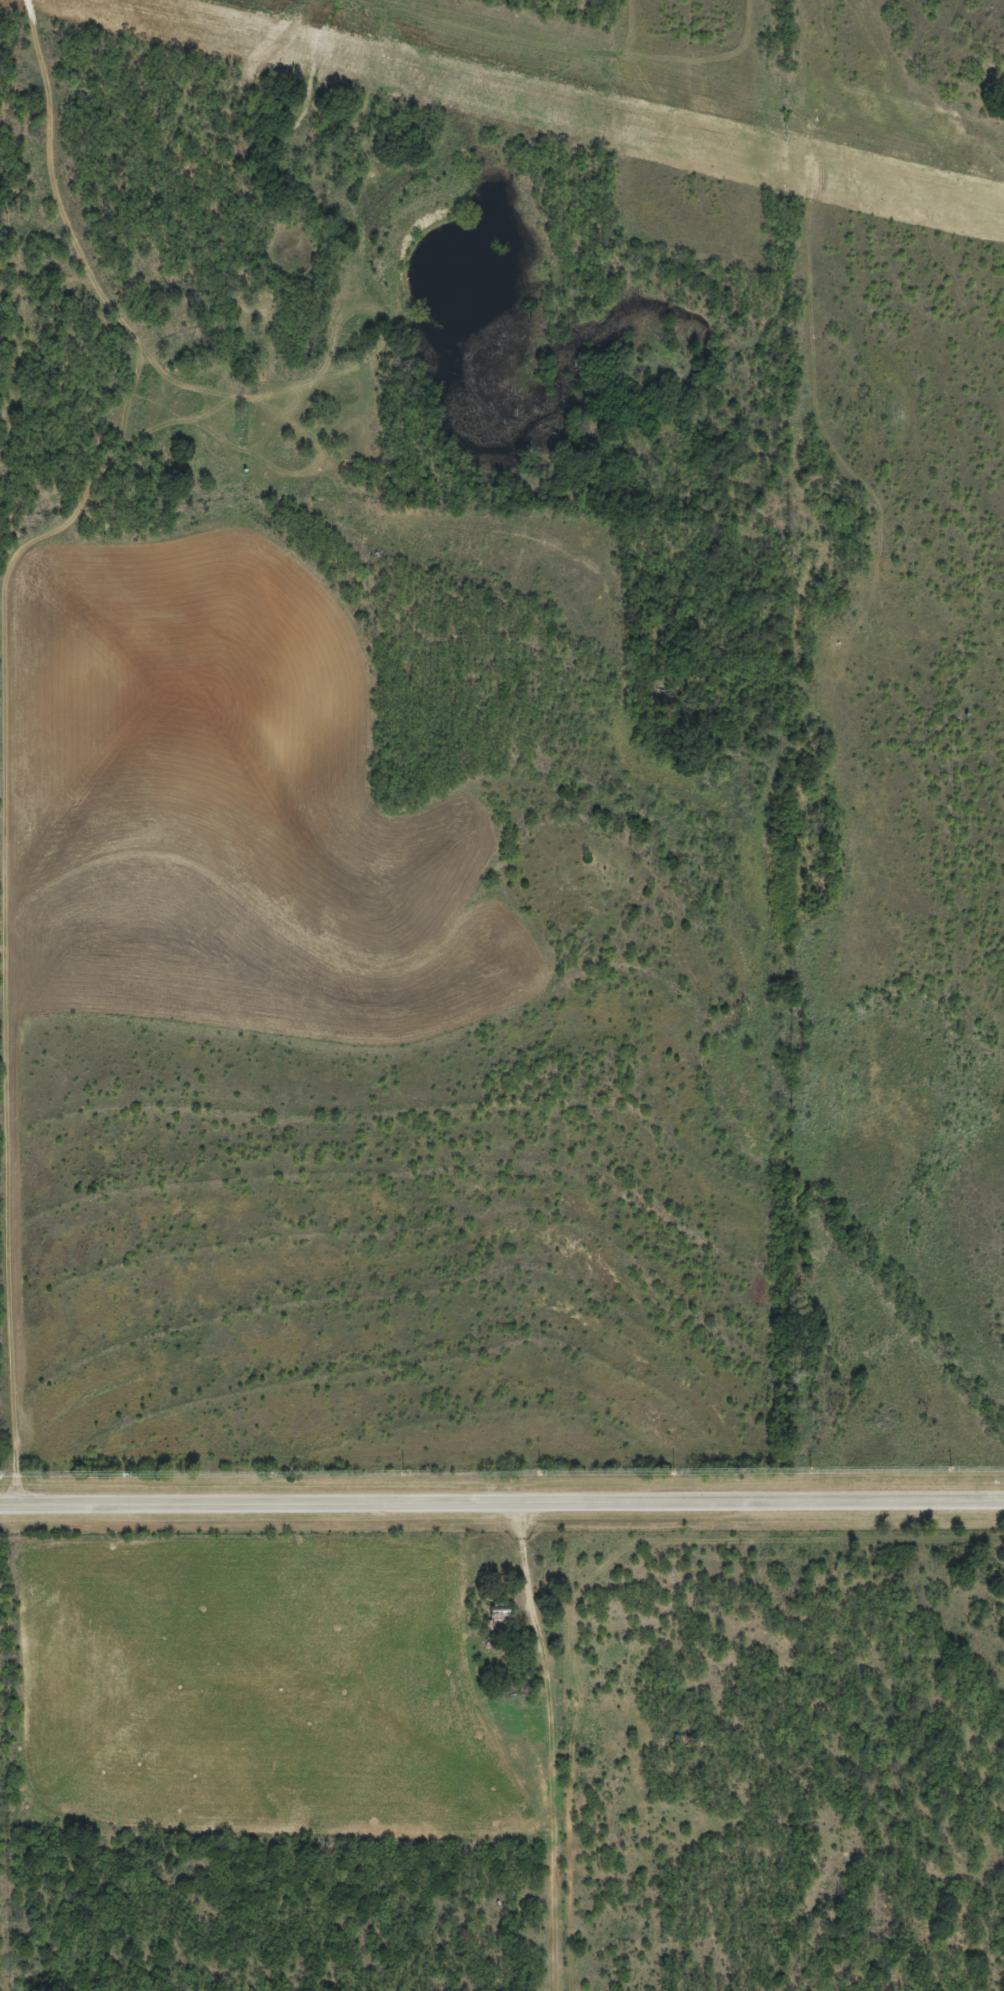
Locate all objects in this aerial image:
road: (502, 1505)
road: (525, 1557)

